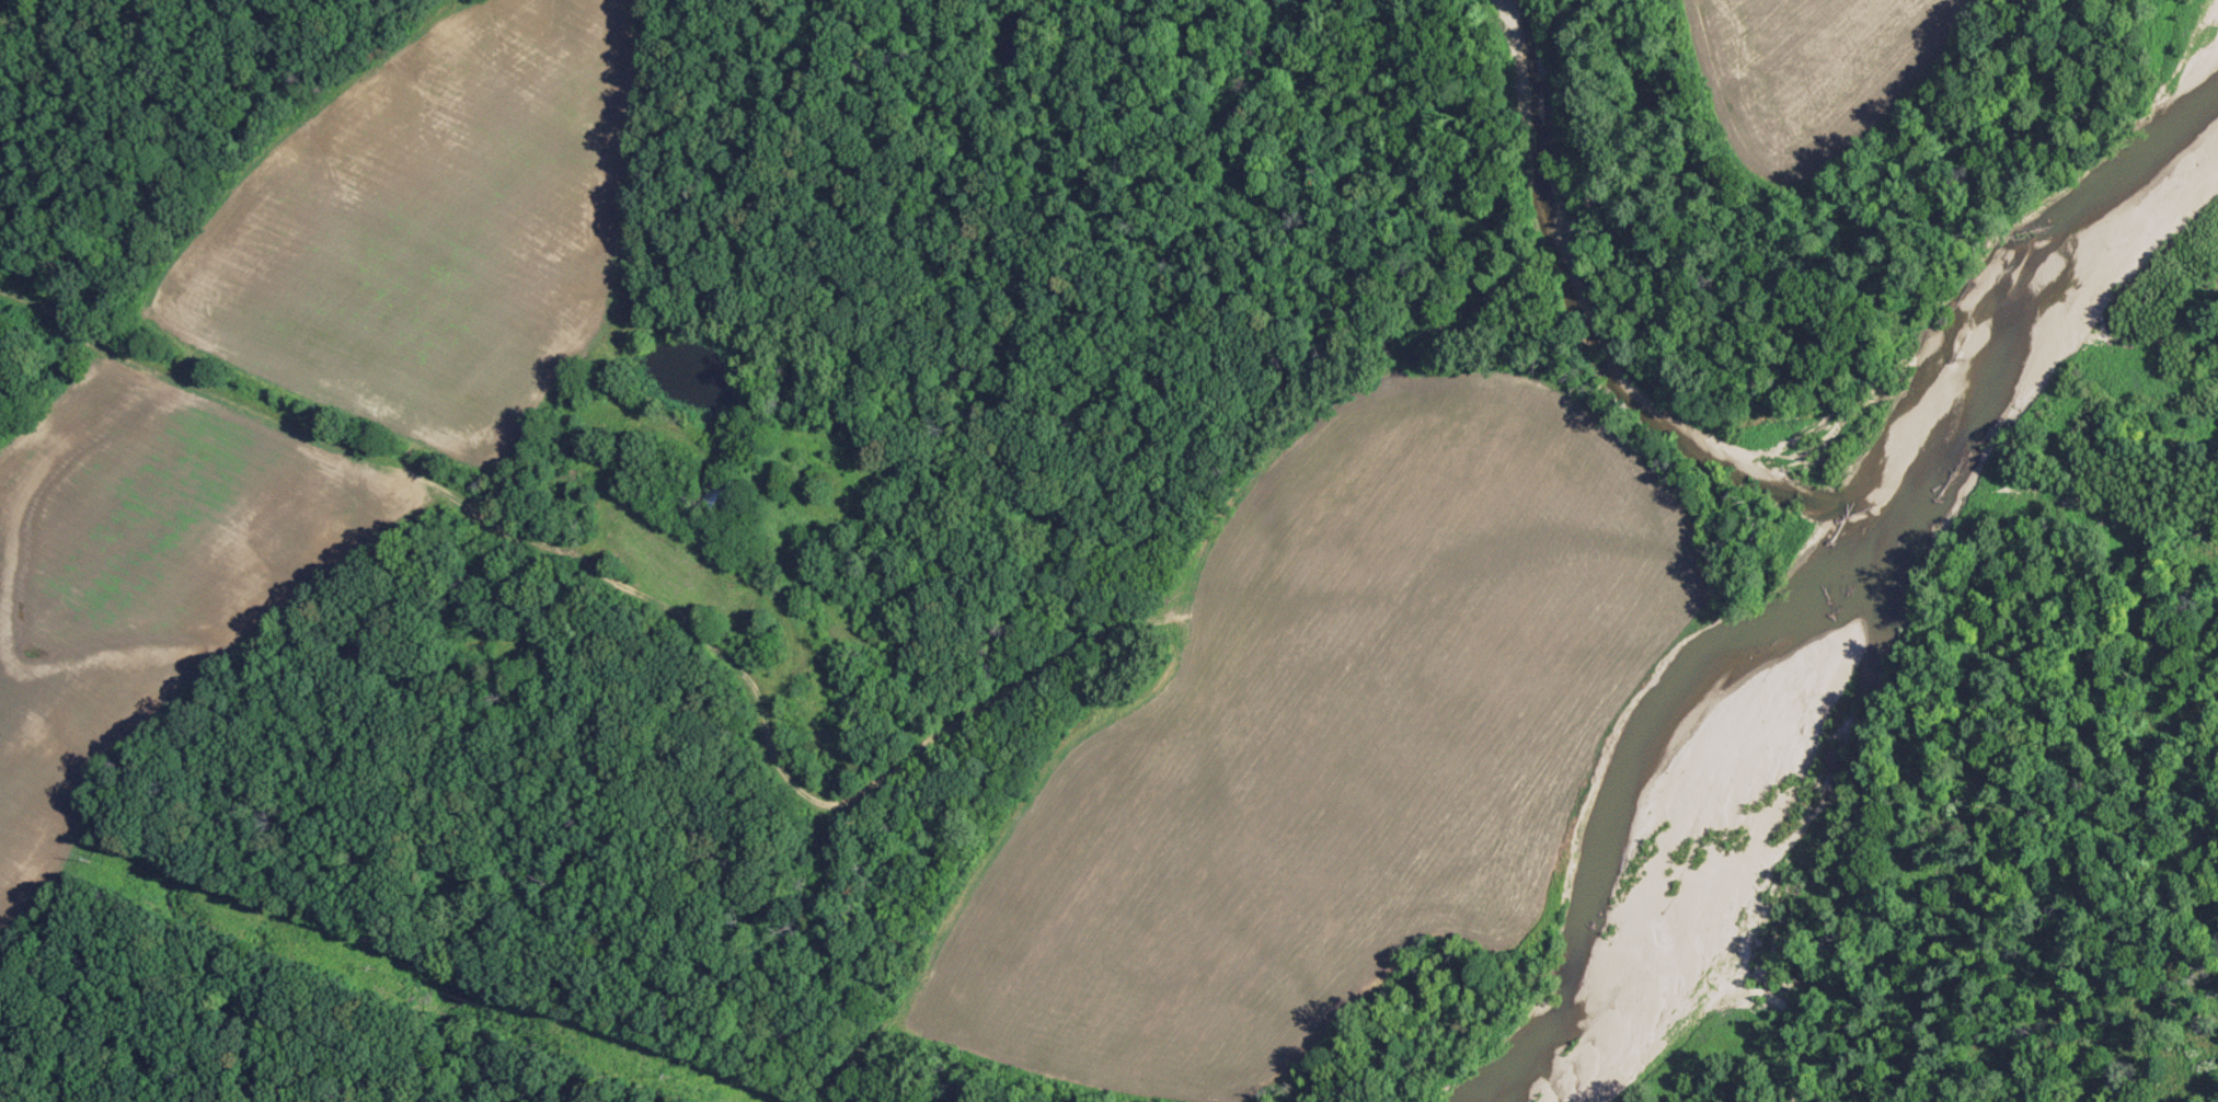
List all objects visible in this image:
road: (1588, 139)
river: (1595, 332)
building: (726, 491)
river: (1870, 670)
road: (975, 725)

